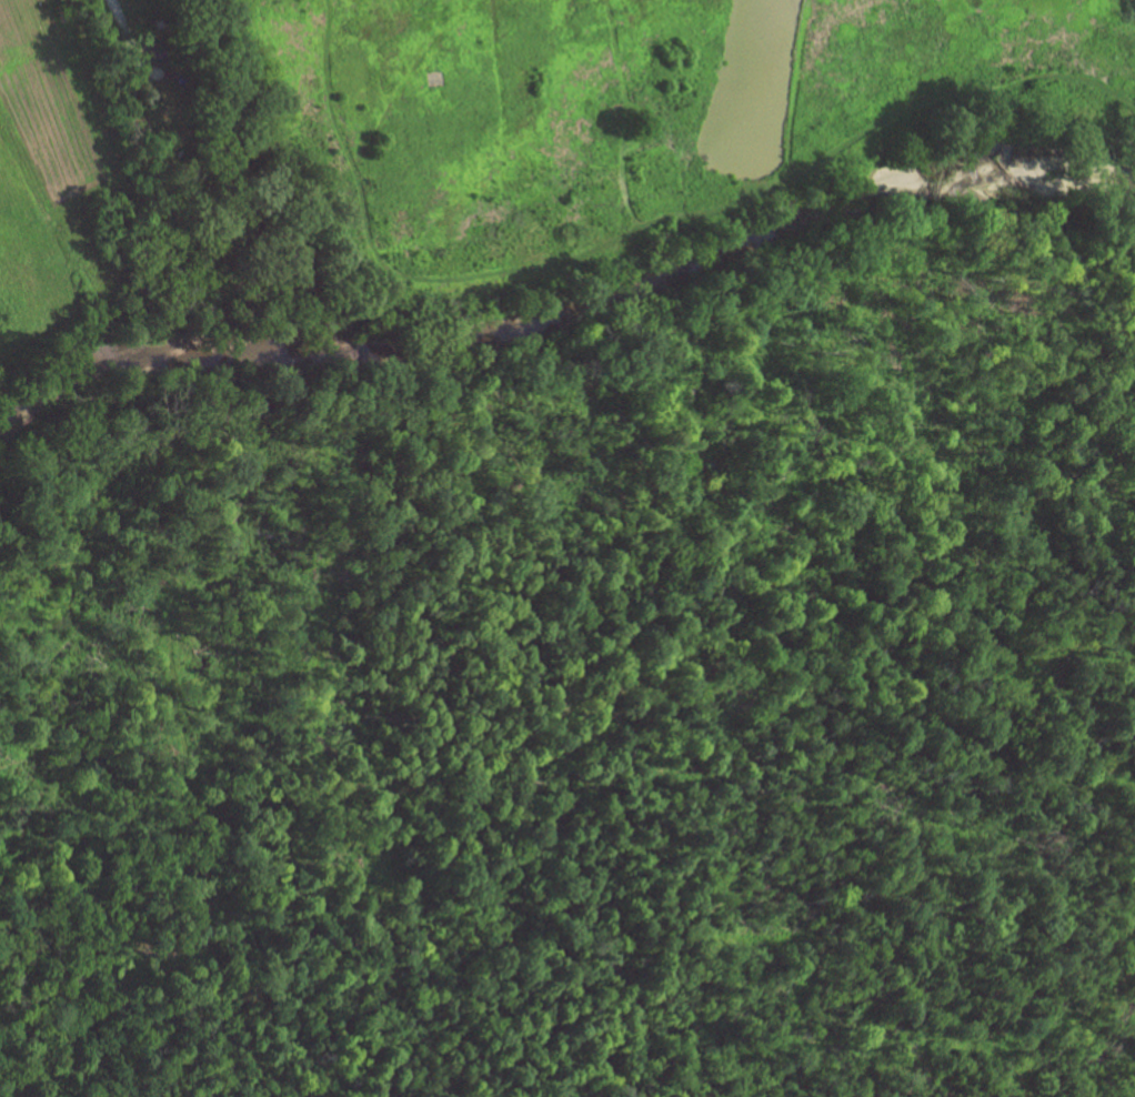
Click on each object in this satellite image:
road: (124, 33)

